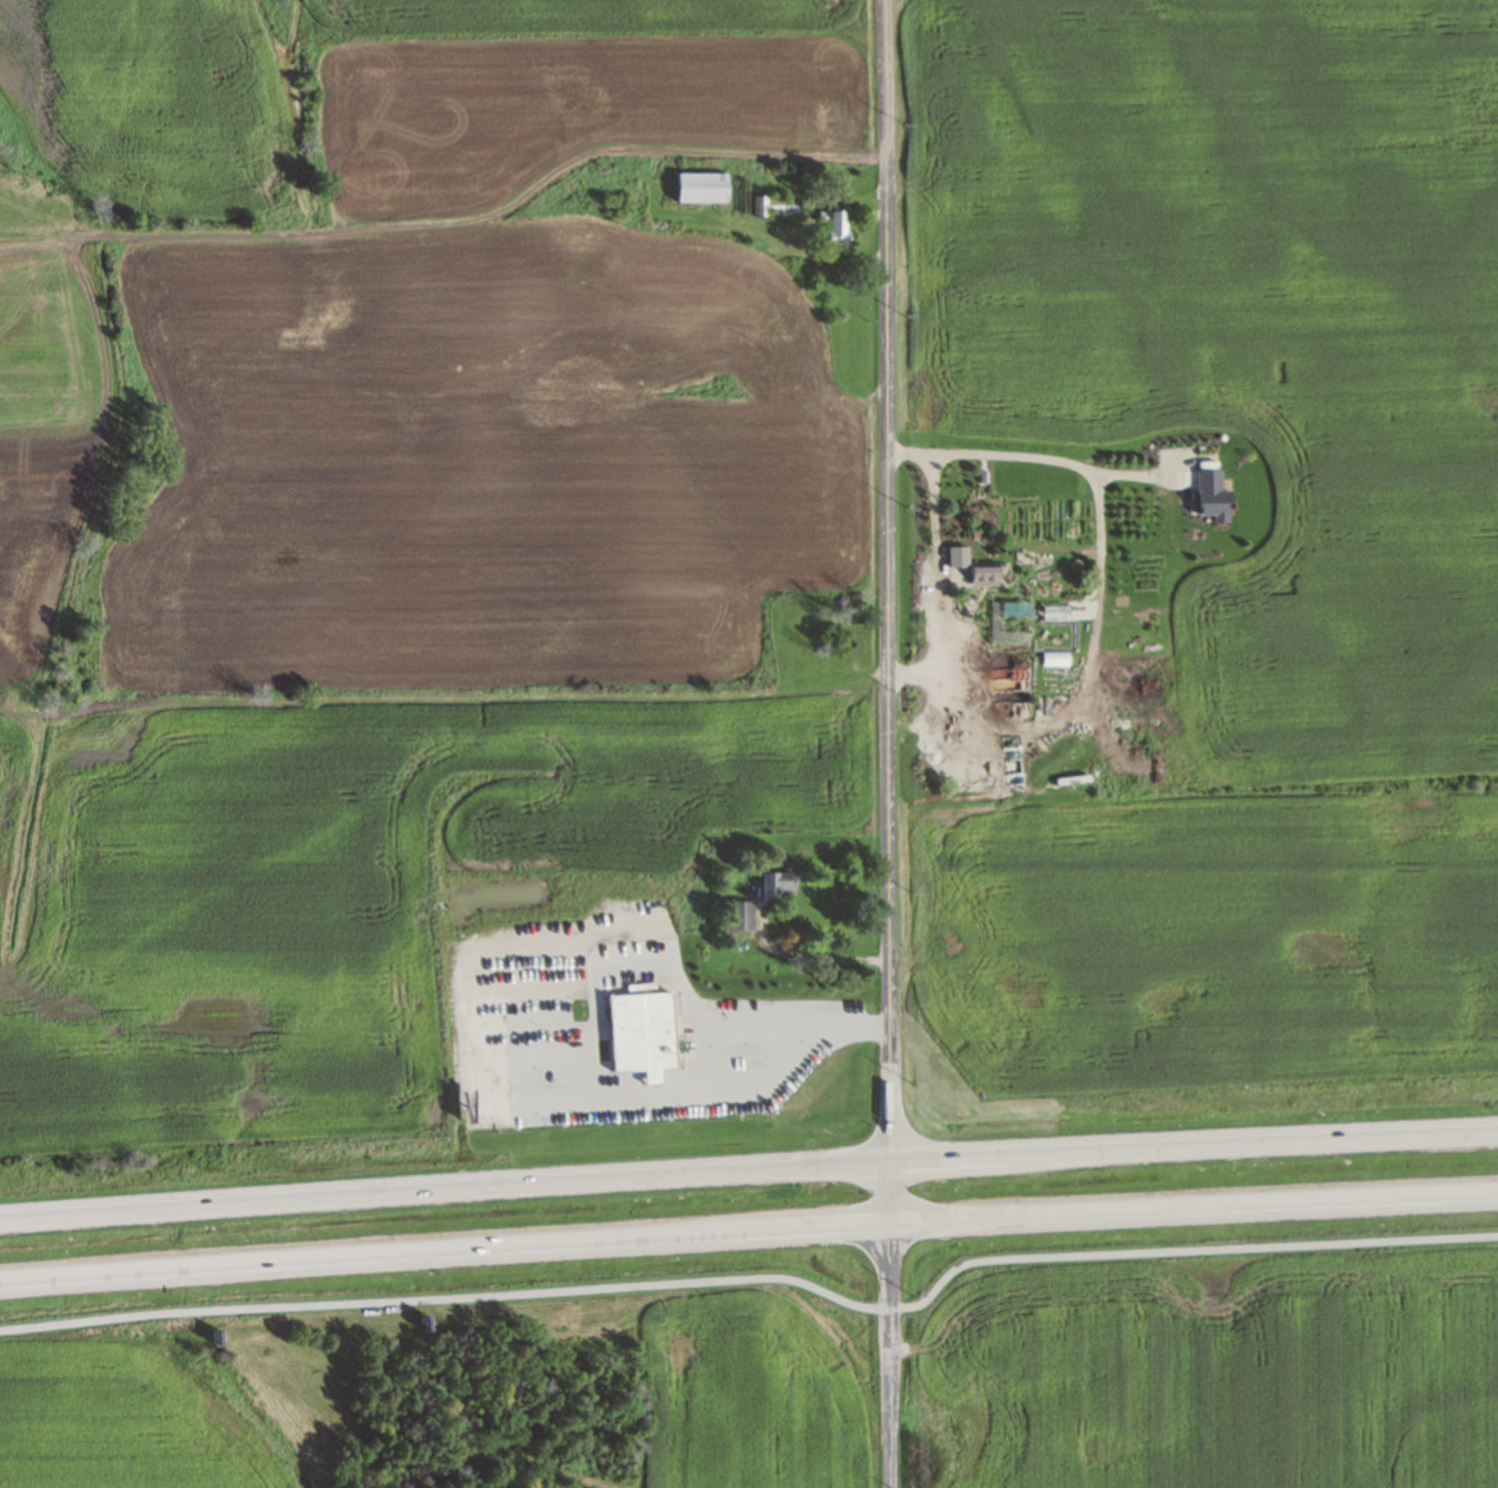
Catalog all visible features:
building: (701, 187)
building: (776, 205)
building: (837, 227)
building: (984, 573)
building: (1054, 612)
road: (890, 743)
building: (778, 884)
building: (741, 915)
building: (642, 1034)
road: (1194, 1146)
road: (445, 1189)
road: (1194, 1206)
road: (445, 1248)
road: (760, 1279)

